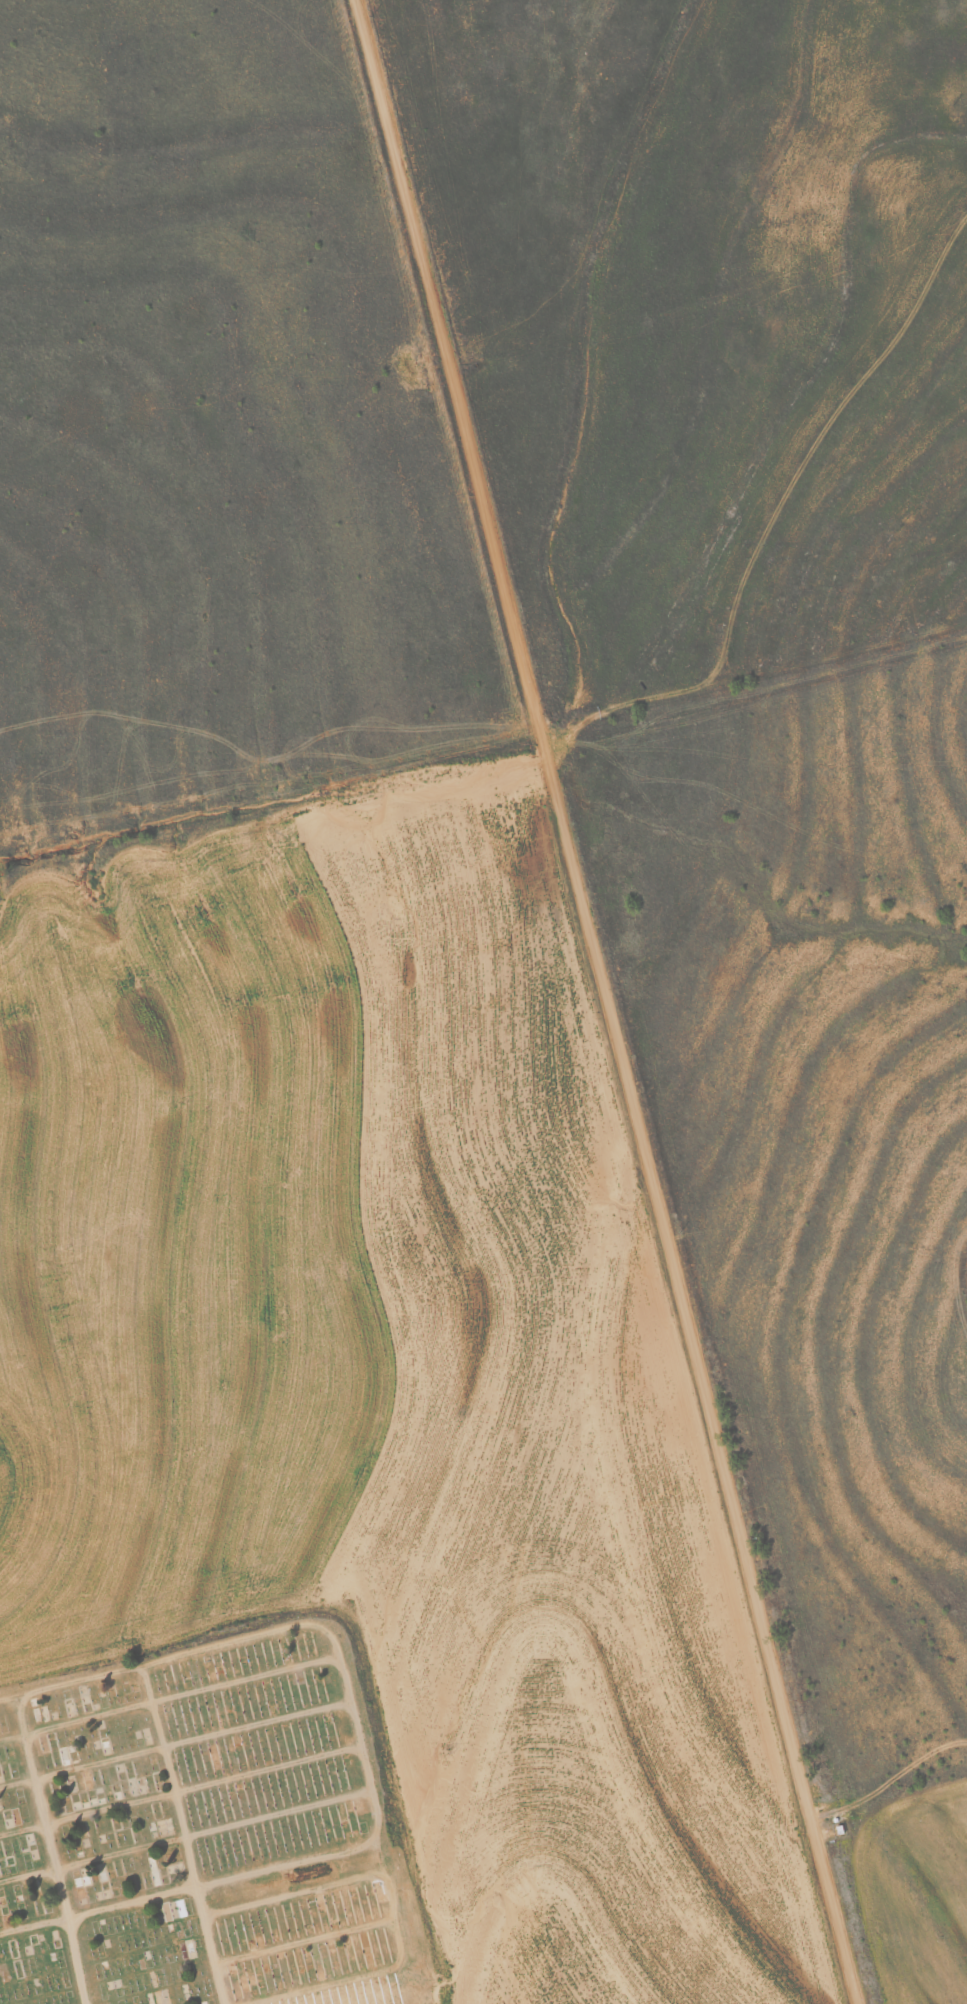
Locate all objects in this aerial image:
road: (759, 481)
road: (591, 1004)
building: (147, 1736)
road: (337, 1756)
building: (101, 1788)
building: (6, 1821)
park: (199, 1825)
building: (161, 1828)
building: (7, 1841)
road: (164, 1849)
road: (40, 1867)
building: (90, 1883)
building: (174, 1909)
building: (190, 1953)
building: (146, 1960)
building: (159, 1997)

